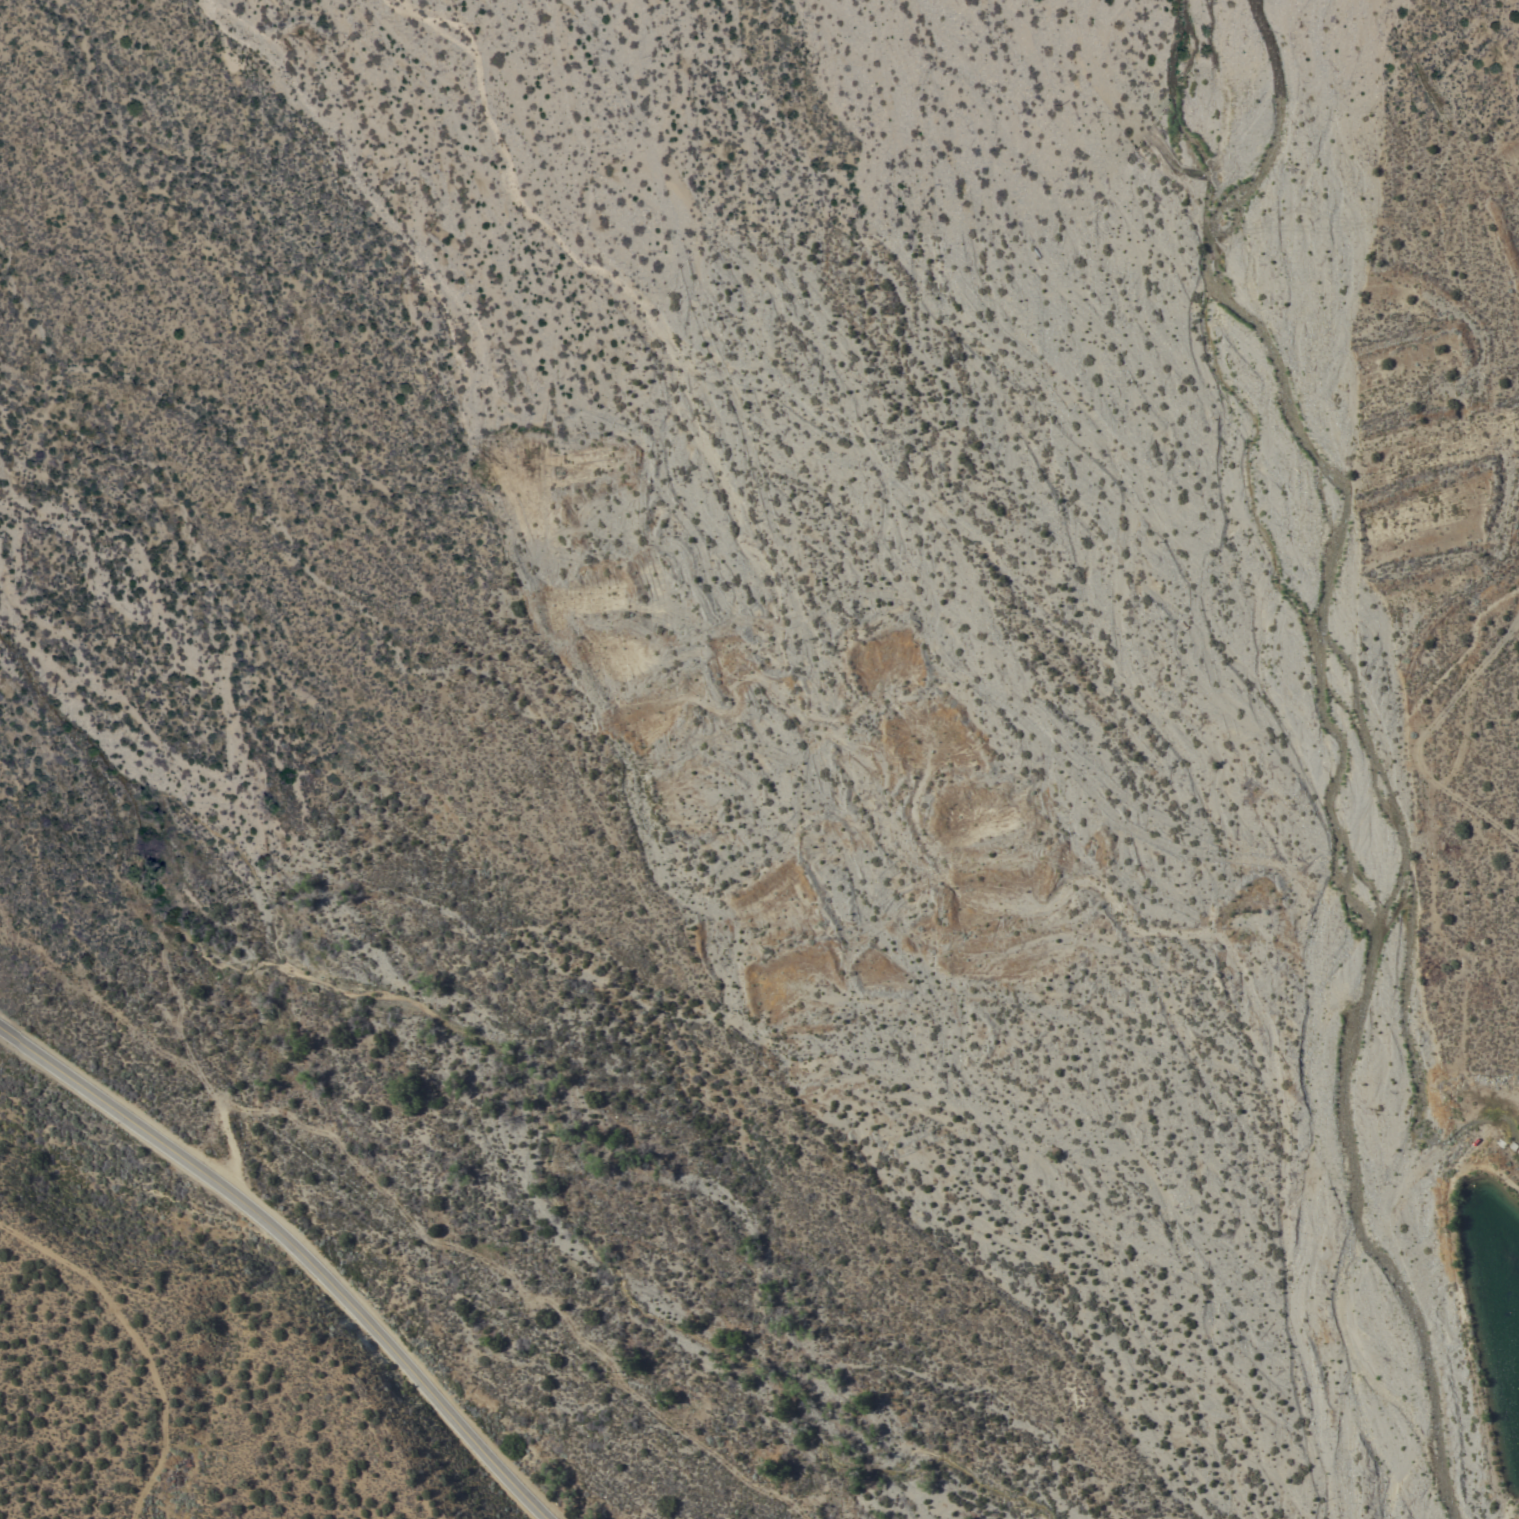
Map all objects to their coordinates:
road: (293, 1264)

